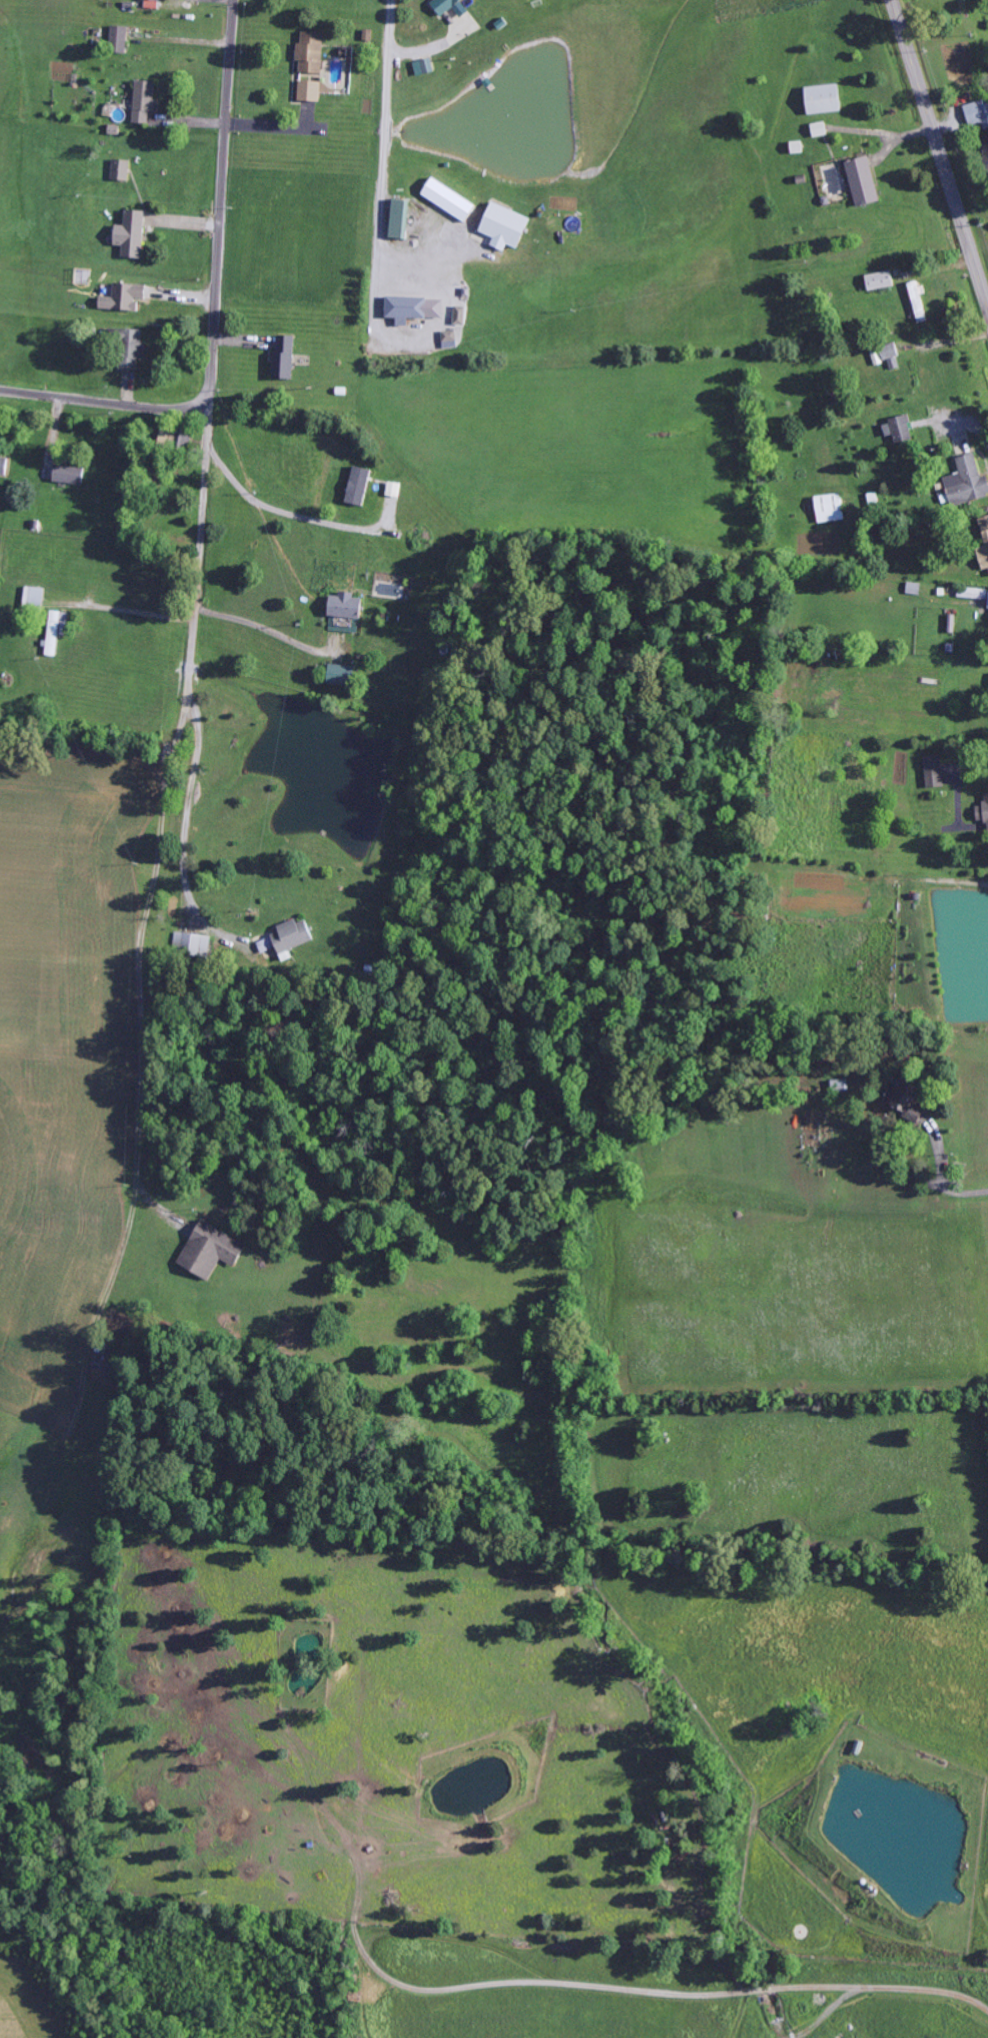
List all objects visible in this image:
building: (152, 4)
building: (450, 6)
building: (119, 39)
building: (311, 53)
building: (425, 67)
building: (310, 91)
building: (824, 99)
building: (145, 101)
building: (978, 115)
building: (820, 130)
road: (385, 137)
building: (986, 143)
road: (939, 152)
building: (121, 170)
building: (864, 182)
building: (449, 200)
road: (221, 206)
building: (400, 219)
building: (132, 235)
building: (880, 281)
building: (125, 298)
building: (415, 309)
building: (461, 316)
building: (451, 340)
building: (132, 350)
building: (891, 357)
building: (285, 358)
road: (104, 403)
building: (899, 430)
building: (4, 467)
building: (69, 475)
building: (972, 478)
building: (359, 487)
building: (830, 509)
building: (985, 533)
road: (199, 560)
building: (973, 594)
building: (346, 606)
building: (57, 632)
building: (342, 675)
building: (935, 772)
building: (984, 813)
building: (289, 937)
building: (193, 944)
building: (841, 1085)
building: (908, 1101)
building: (210, 1250)
road: (925, 1461)

